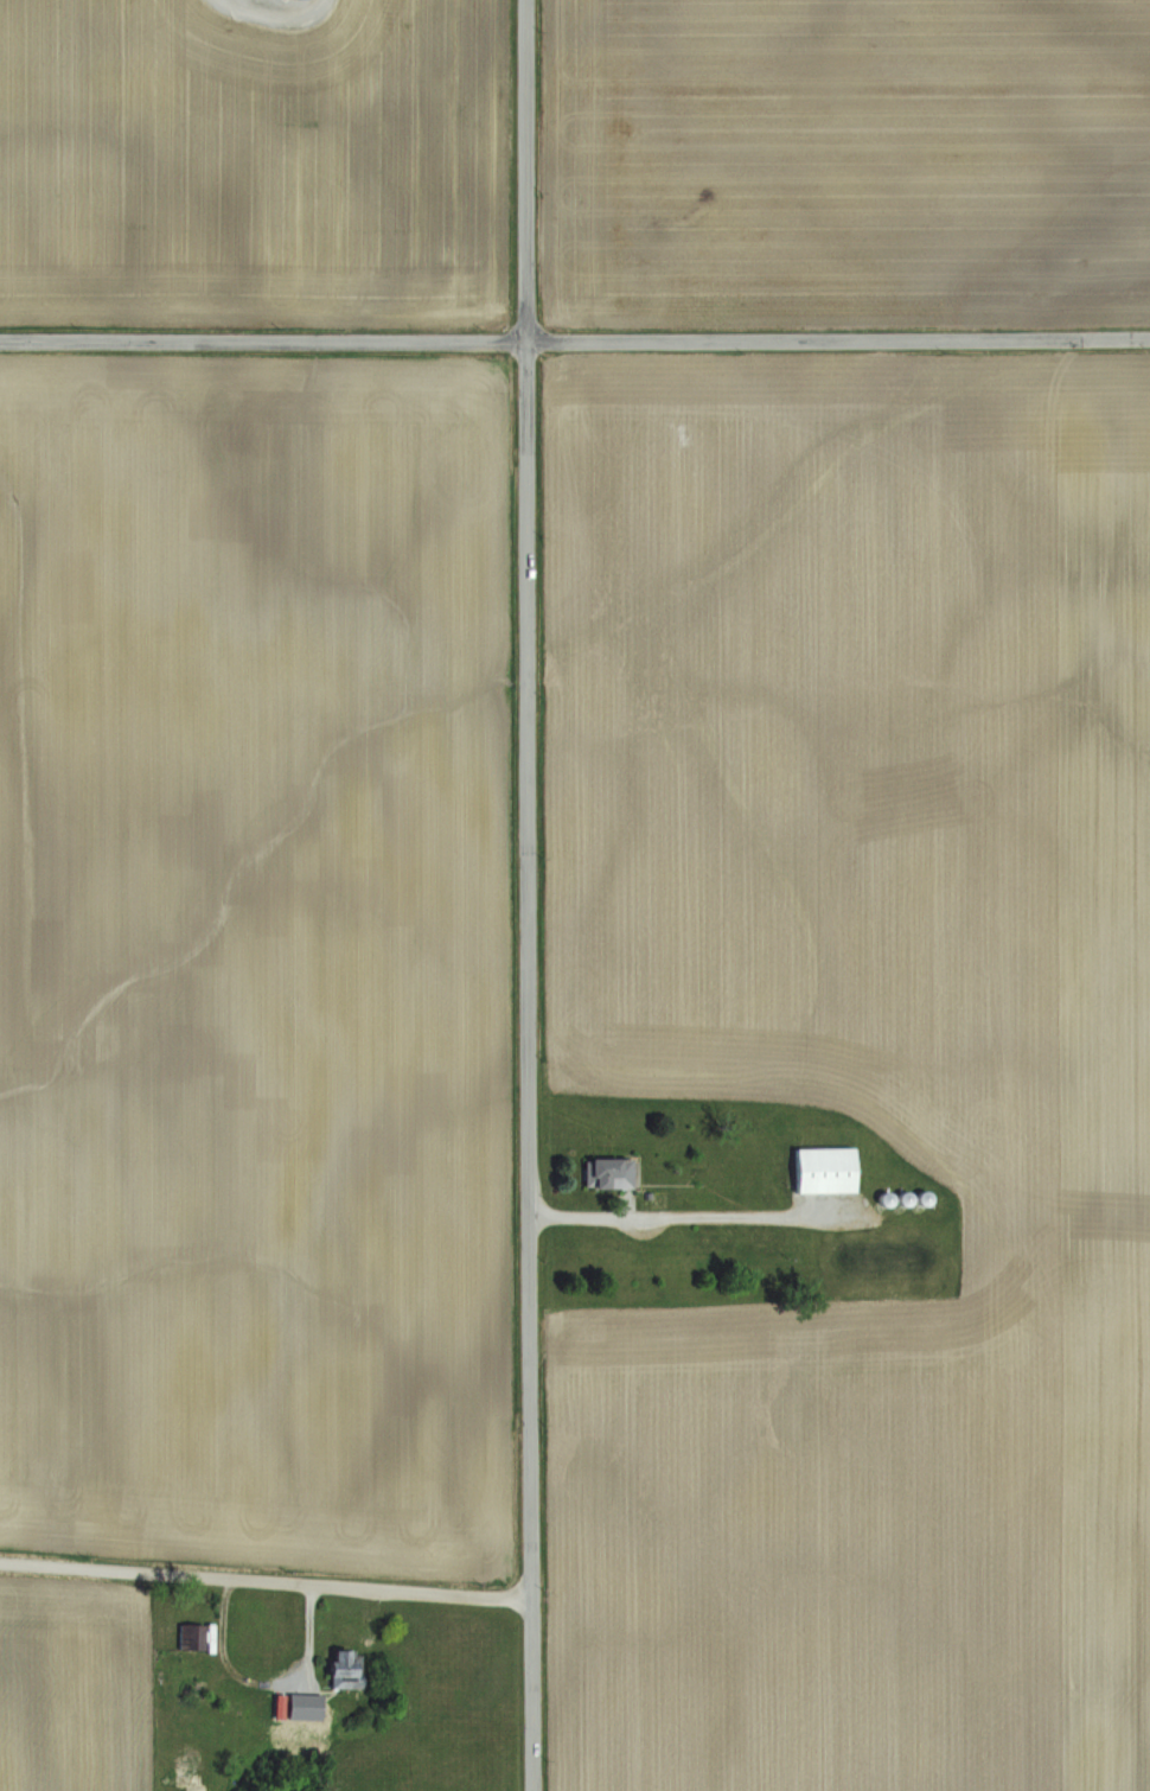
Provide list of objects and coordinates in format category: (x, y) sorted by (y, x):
road: (575, 338)
road: (531, 894)
building: (831, 1171)
building: (613, 1173)
road: (694, 1210)
road: (266, 1580)
building: (196, 1636)
building: (351, 1668)
road: (264, 1683)

